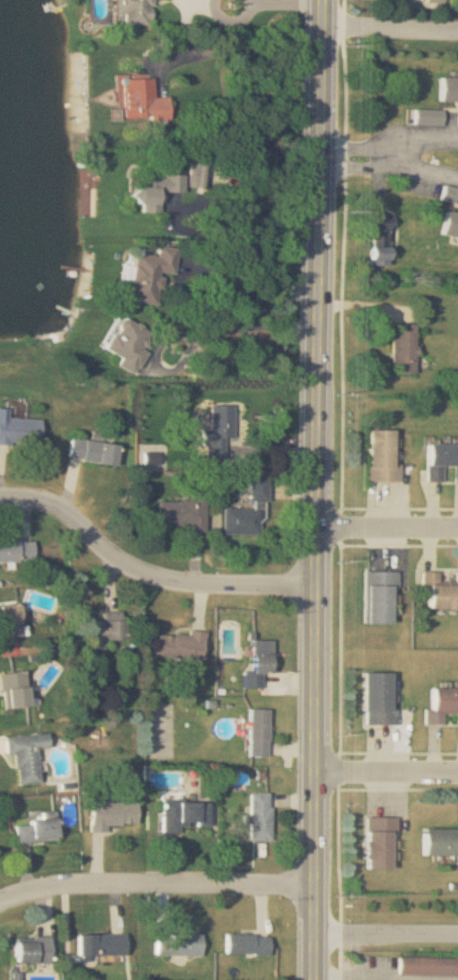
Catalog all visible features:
building: (432, 2)
road: (279, 3)
building: (130, 12)
road: (389, 28)
road: (246, 47)
building: (447, 90)
building: (137, 101)
building: (425, 117)
road: (418, 140)
road: (379, 155)
road: (329, 156)
road: (419, 165)
building: (196, 176)
building: (150, 190)
road: (258, 192)
building: (449, 225)
building: (376, 253)
building: (146, 274)
road: (261, 294)
road: (225, 329)
building: (126, 343)
building: (401, 349)
building: (17, 426)
building: (218, 432)
building: (89, 451)
building: (378, 458)
building: (439, 461)
building: (256, 489)
road: (319, 490)
building: (178, 514)
building: (237, 521)
road: (389, 525)
building: (15, 549)
road: (149, 570)
building: (438, 591)
building: (377, 595)
building: (8, 620)
building: (102, 631)
building: (178, 646)
building: (258, 660)
building: (11, 689)
building: (375, 697)
building: (441, 703)
building: (256, 732)
building: (24, 756)
road: (388, 772)
building: (111, 815)
building: (182, 815)
building: (259, 817)
building: (35, 829)
building: (376, 842)
building: (439, 842)
road: (161, 881)
road: (4, 901)
road: (388, 930)
building: (177, 943)
building: (245, 943)
building: (98, 945)
building: (29, 950)
building: (427, 966)
road: (358, 974)

